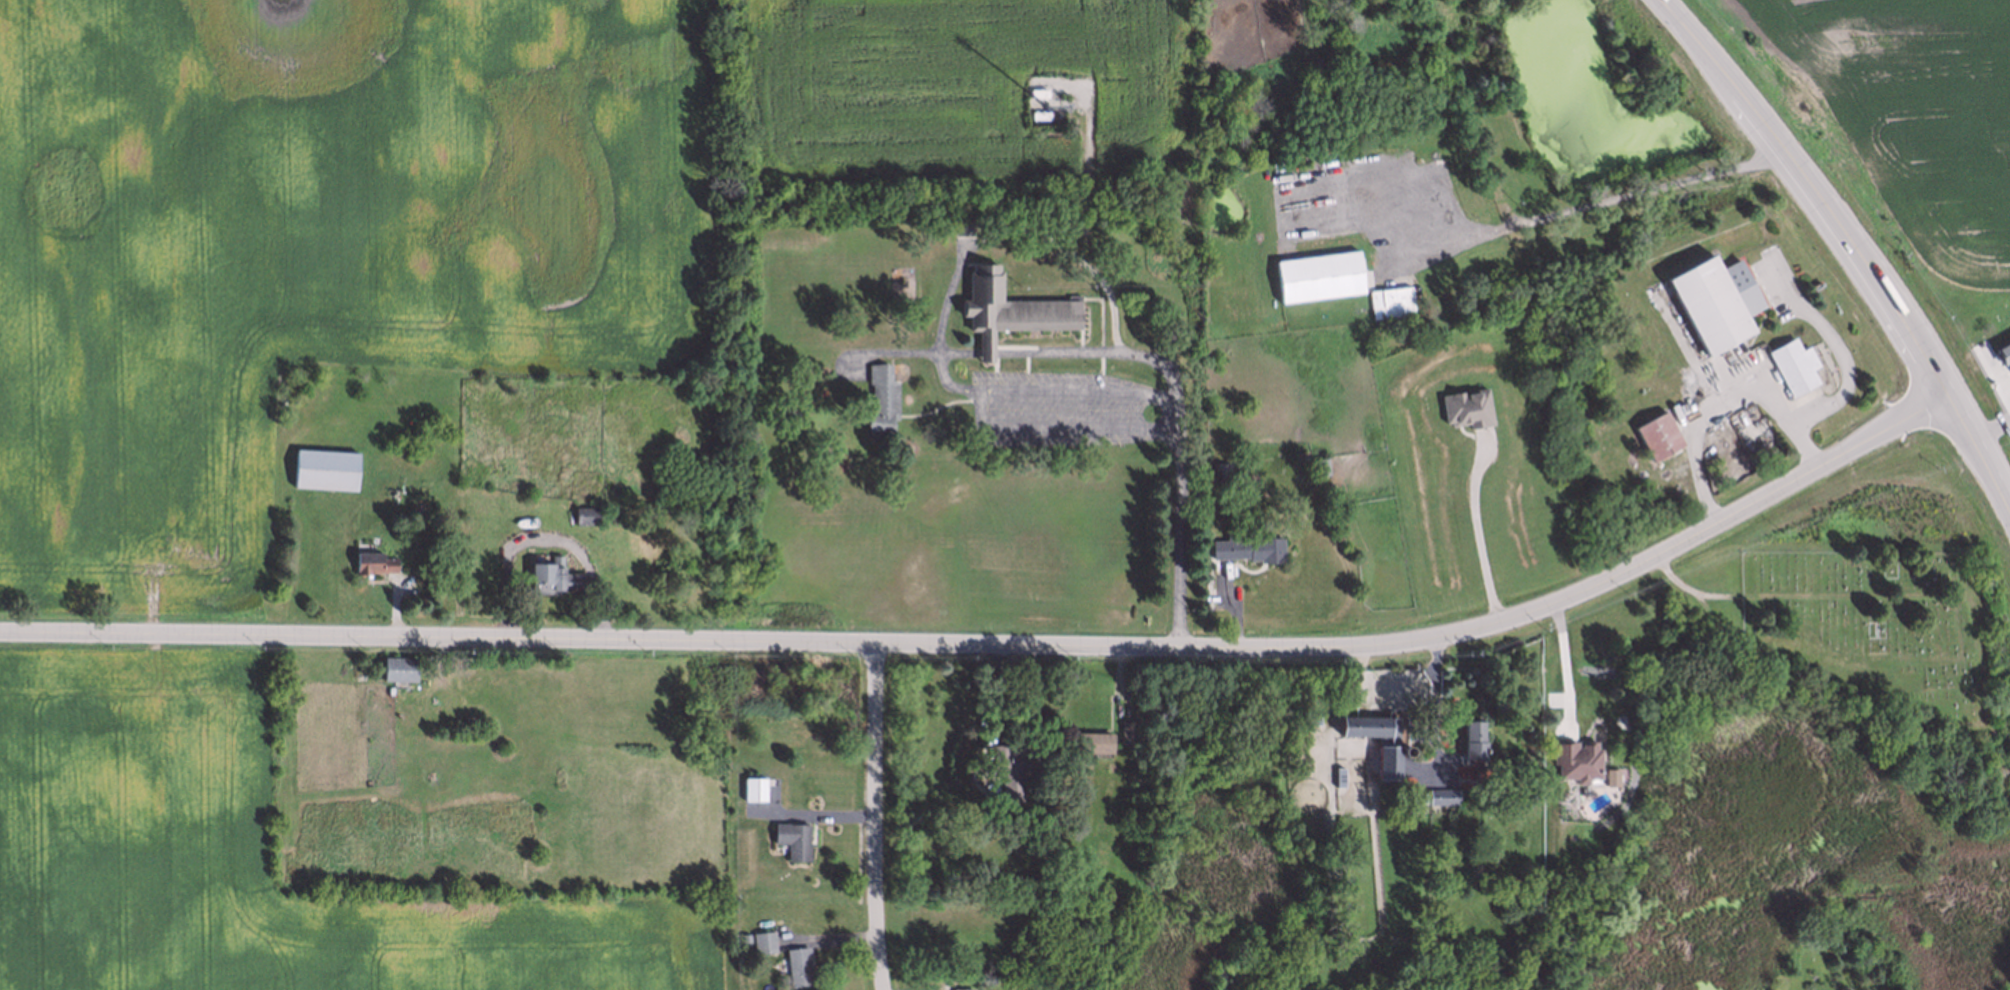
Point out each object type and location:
building: (1041, 117)
road: (1577, 207)
building: (961, 221)
road: (1018, 231)
road: (1857, 246)
building: (1319, 278)
building: (1388, 301)
building: (1717, 303)
building: (1010, 311)
road: (986, 352)
building: (2004, 352)
road: (1100, 353)
road: (935, 363)
building: (1795, 364)
road: (975, 396)
building: (881, 400)
building: (1467, 409)
road: (1777, 411)
building: (1658, 436)
road: (1802, 447)
building: (1316, 466)
building: (323, 468)
building: (1218, 470)
building: (584, 516)
road: (1475, 536)
road: (1176, 538)
building: (1244, 547)
building: (372, 563)
building: (553, 575)
road: (1002, 644)
building: (397, 667)
road: (1561, 667)
road: (1431, 708)
building: (1307, 717)
building: (1363, 721)
building: (1127, 731)
building: (1469, 734)
building: (1088, 742)
building: (1404, 749)
building: (1576, 759)
building: (1385, 761)
building: (1013, 767)
building: (1337, 774)
building: (753, 787)
building: (1440, 795)
road: (878, 816)
building: (792, 838)
building: (961, 880)
building: (743, 936)
building: (762, 941)
building: (797, 965)
building: (959, 988)

